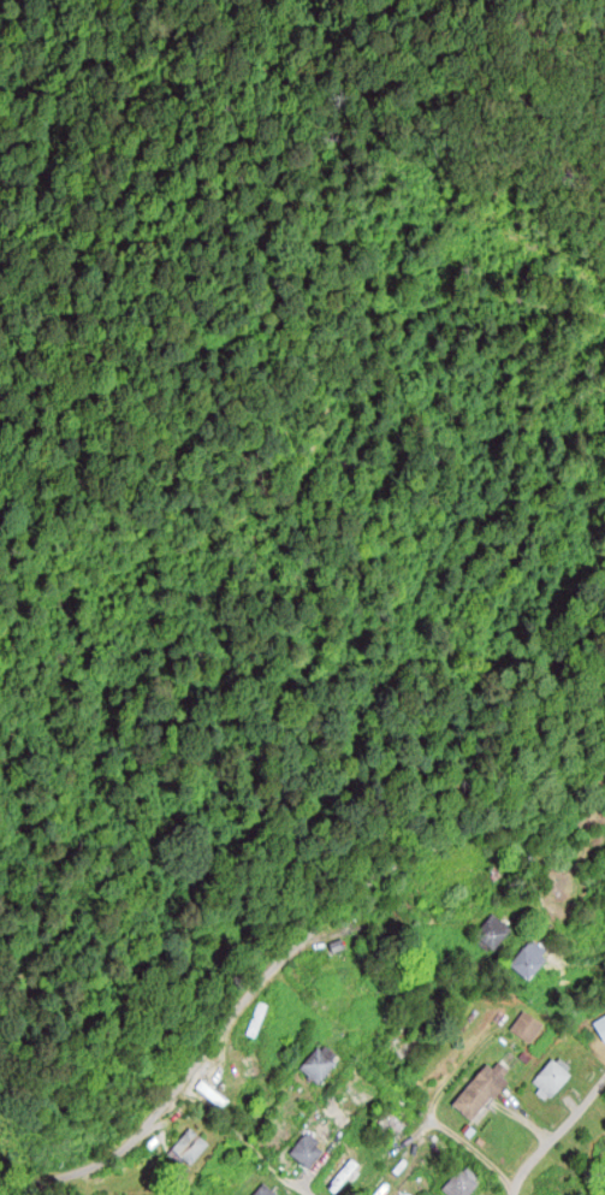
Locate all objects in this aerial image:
building: (494, 933)
building: (532, 960)
building: (257, 1021)
building: (601, 1028)
building: (528, 1029)
building: (401, 1045)
building: (321, 1065)
building: (551, 1082)
road: (603, 1082)
road: (196, 1087)
building: (485, 1090)
road: (433, 1093)
building: (391, 1126)
road: (552, 1138)
road: (253, 1141)
building: (191, 1148)
building: (309, 1152)
building: (343, 1175)
building: (227, 1177)
building: (462, 1183)
building: (265, 1190)

